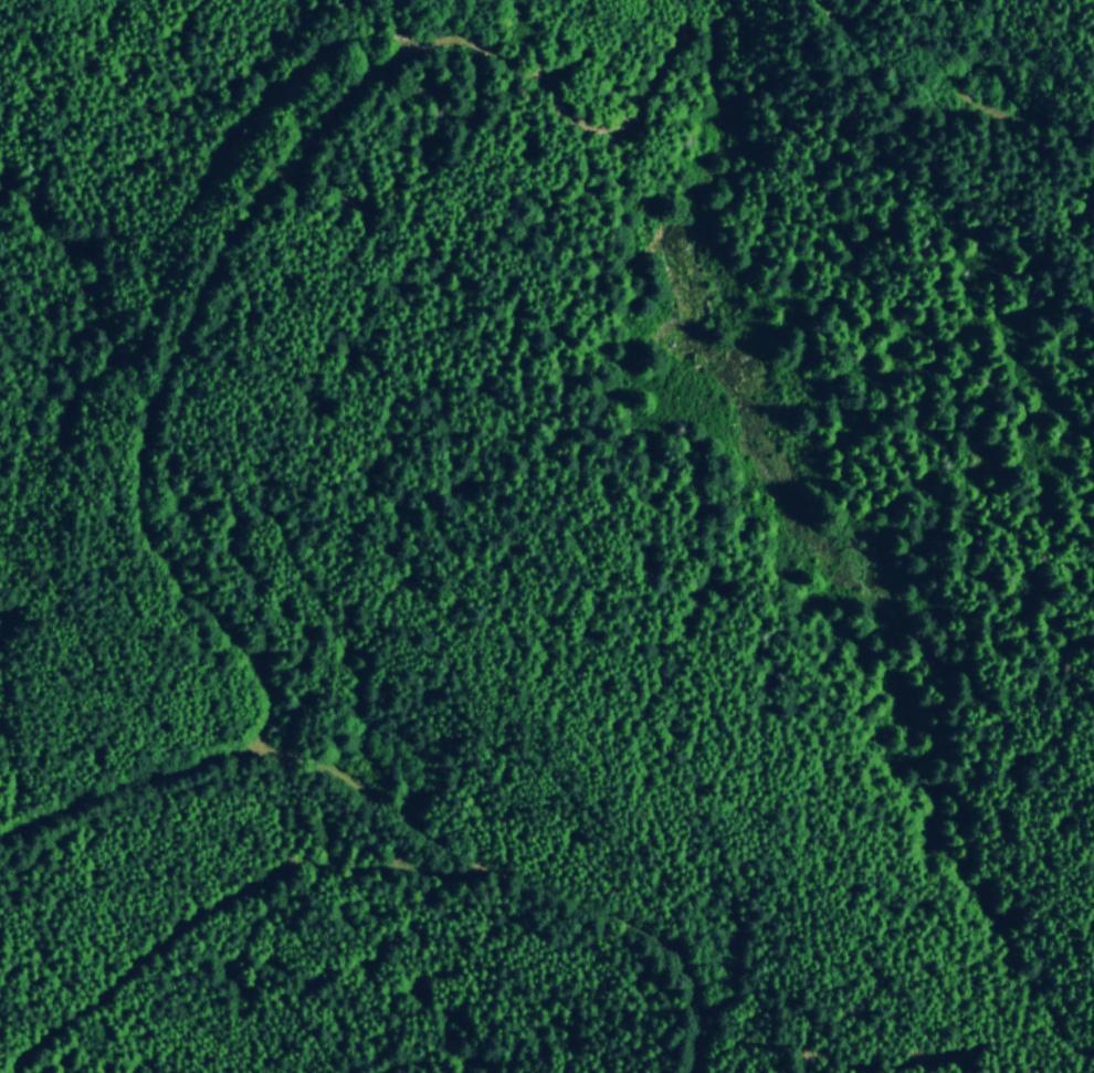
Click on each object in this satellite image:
road: (1031, 111)
road: (158, 385)
road: (494, 863)

